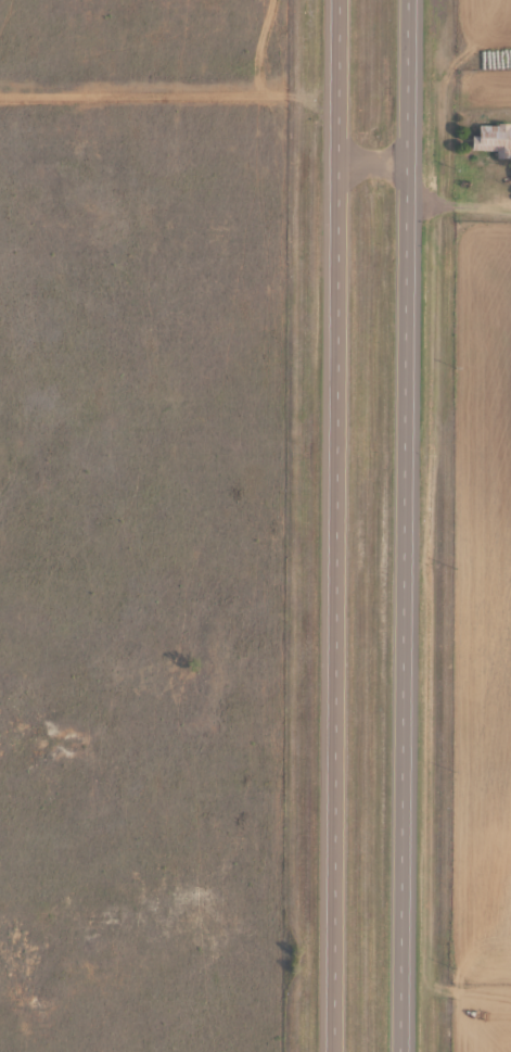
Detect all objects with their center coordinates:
building: (494, 141)
road: (425, 236)
road: (340, 525)
road: (407, 525)

